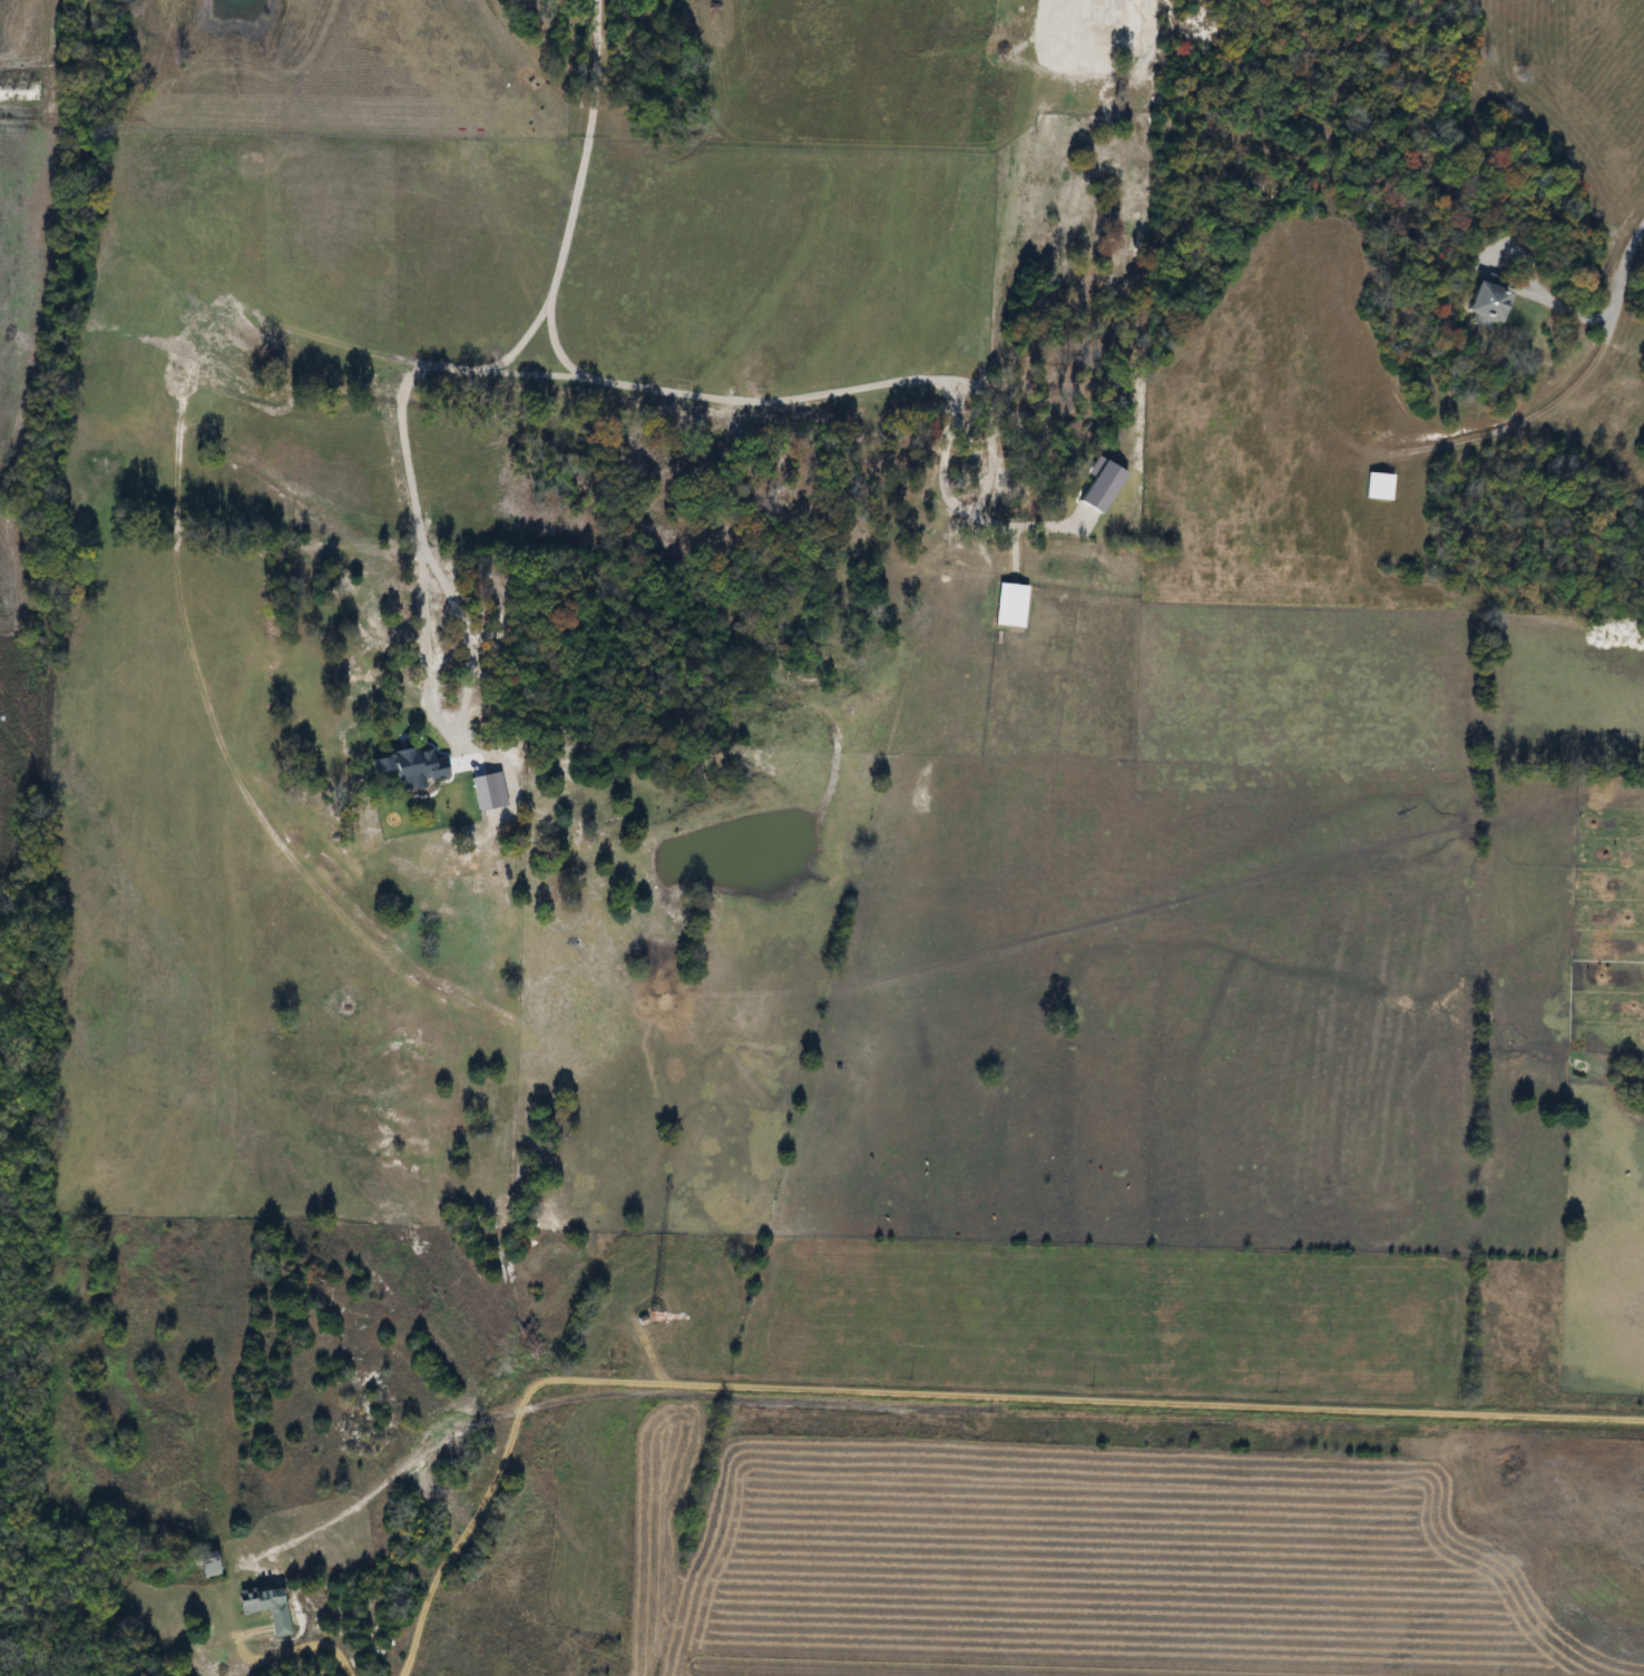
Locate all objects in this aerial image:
building: (1127, 12)
road: (1076, 17)
road: (1612, 294)
building: (1482, 302)
building: (1377, 487)
road: (926, 1388)
building: (272, 1607)
road: (325, 1644)

